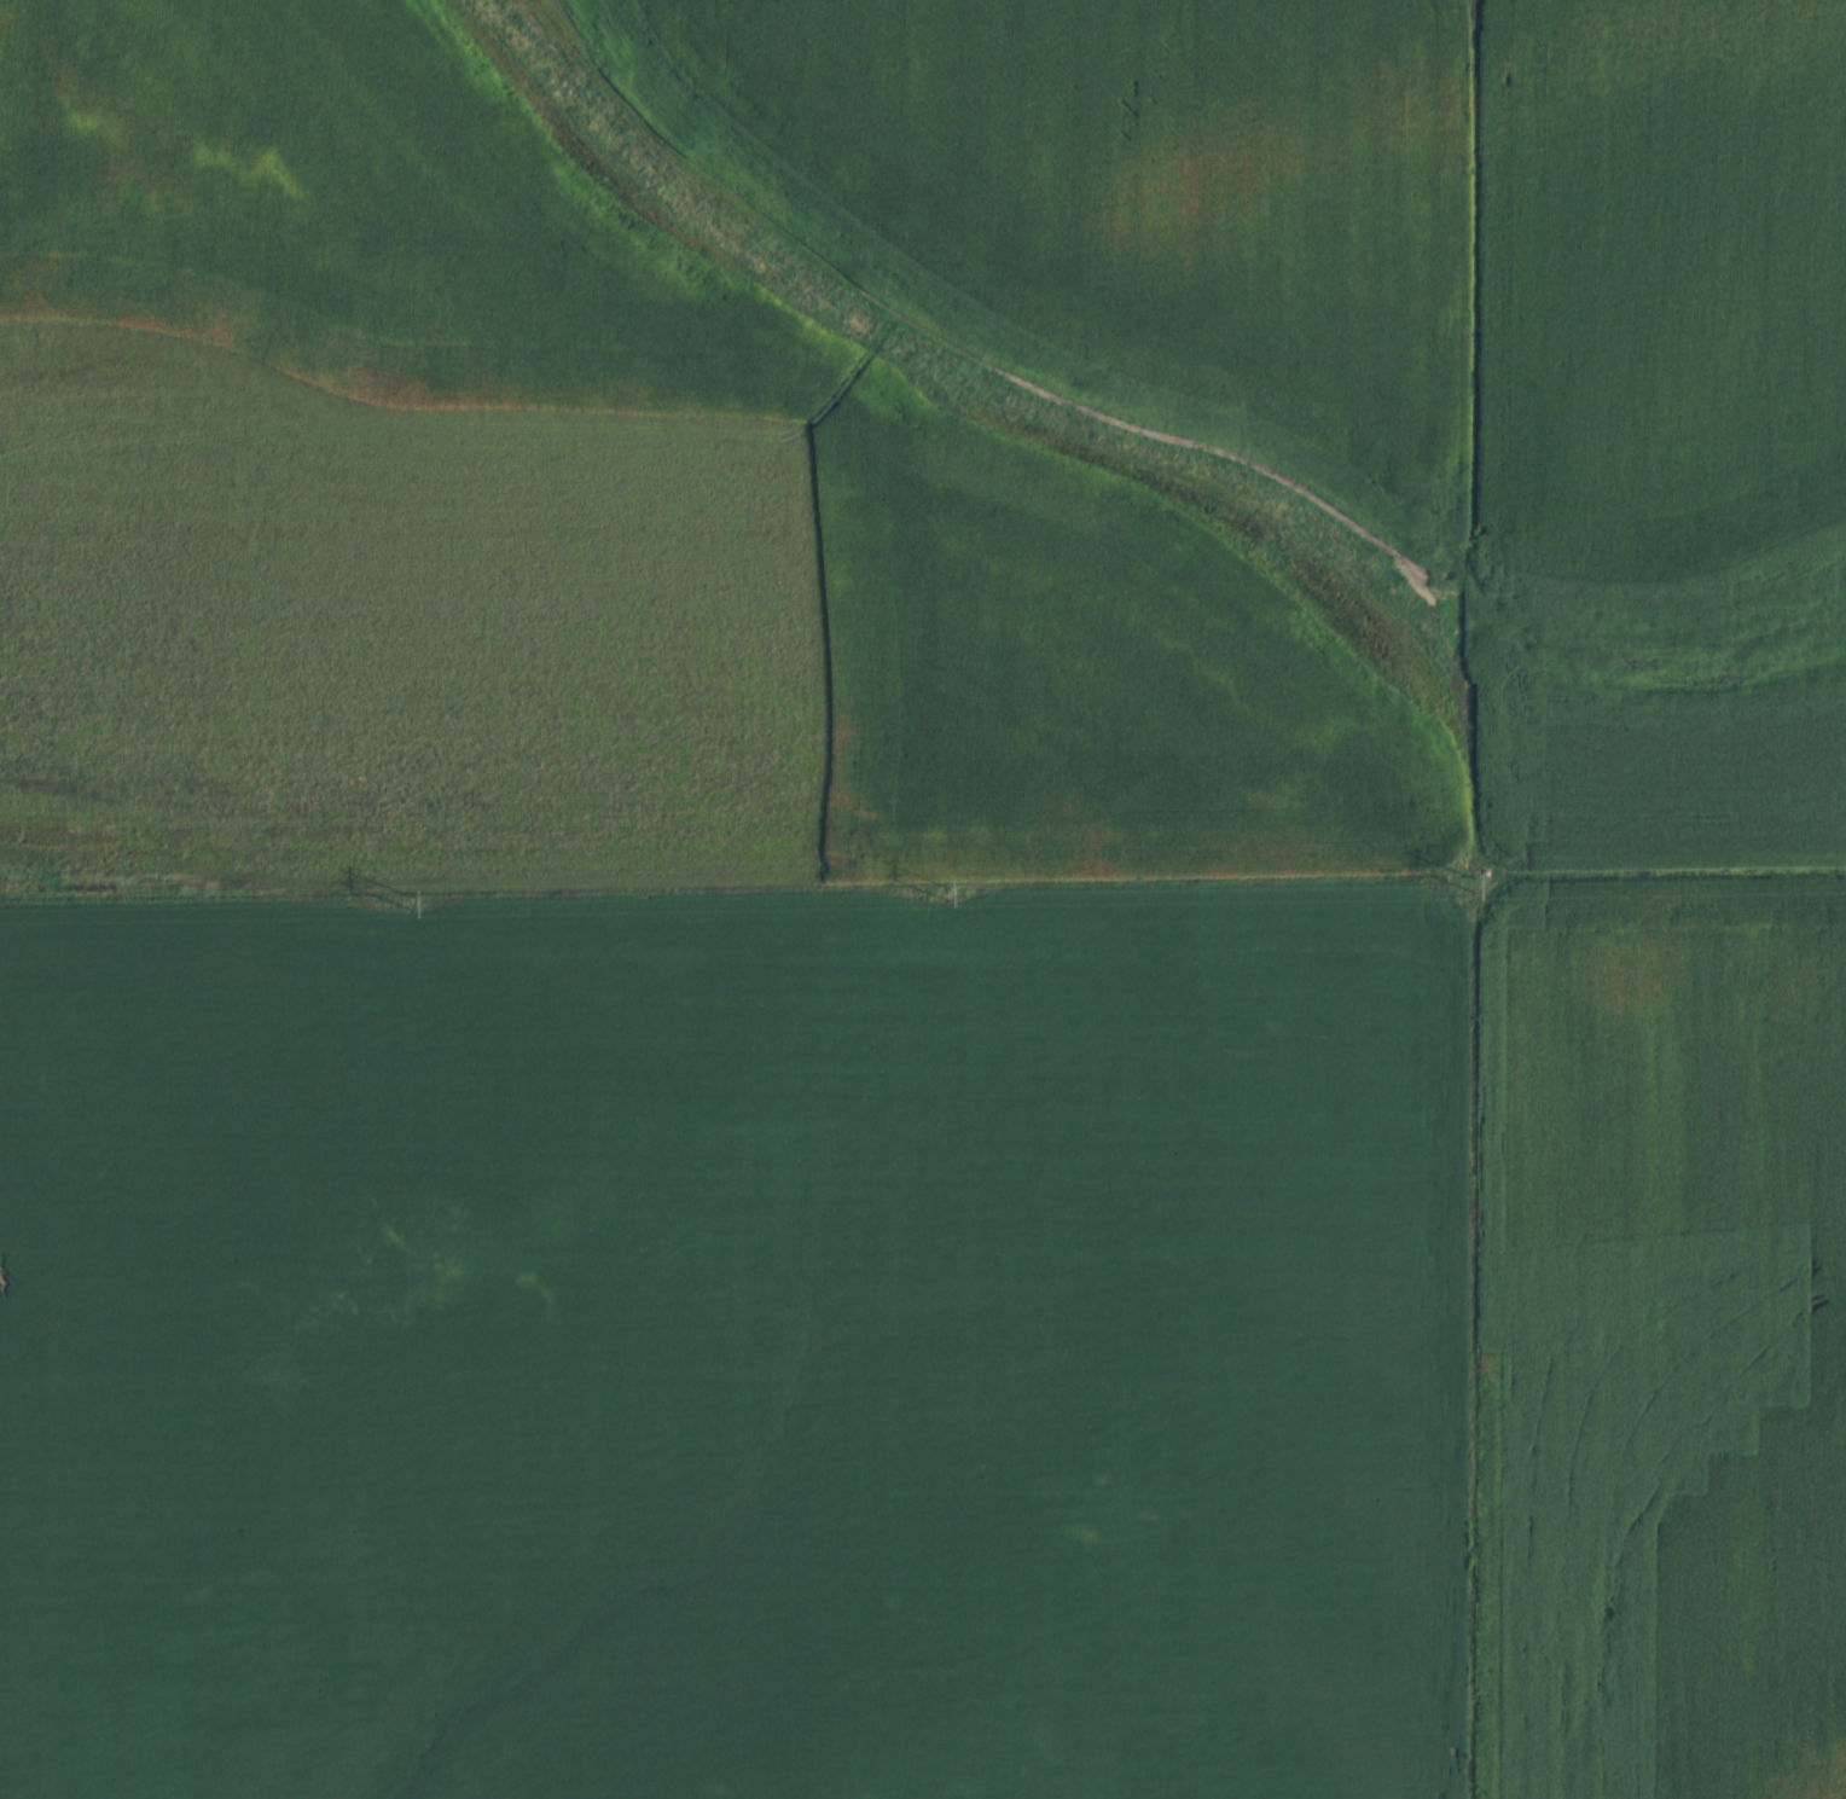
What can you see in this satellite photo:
power tower: (1473, 887)
power tower: (951, 896)
power tower: (417, 906)

